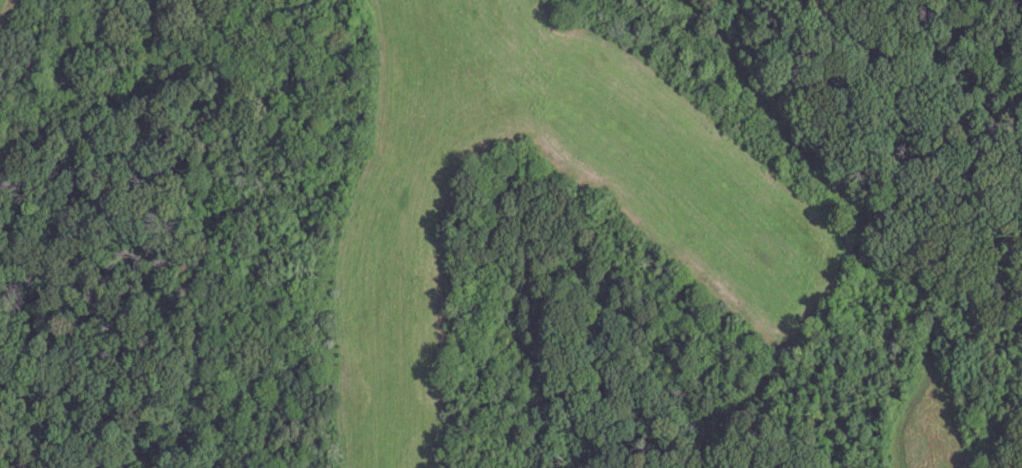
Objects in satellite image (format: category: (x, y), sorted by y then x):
road: (773, 112)
road: (877, 340)

